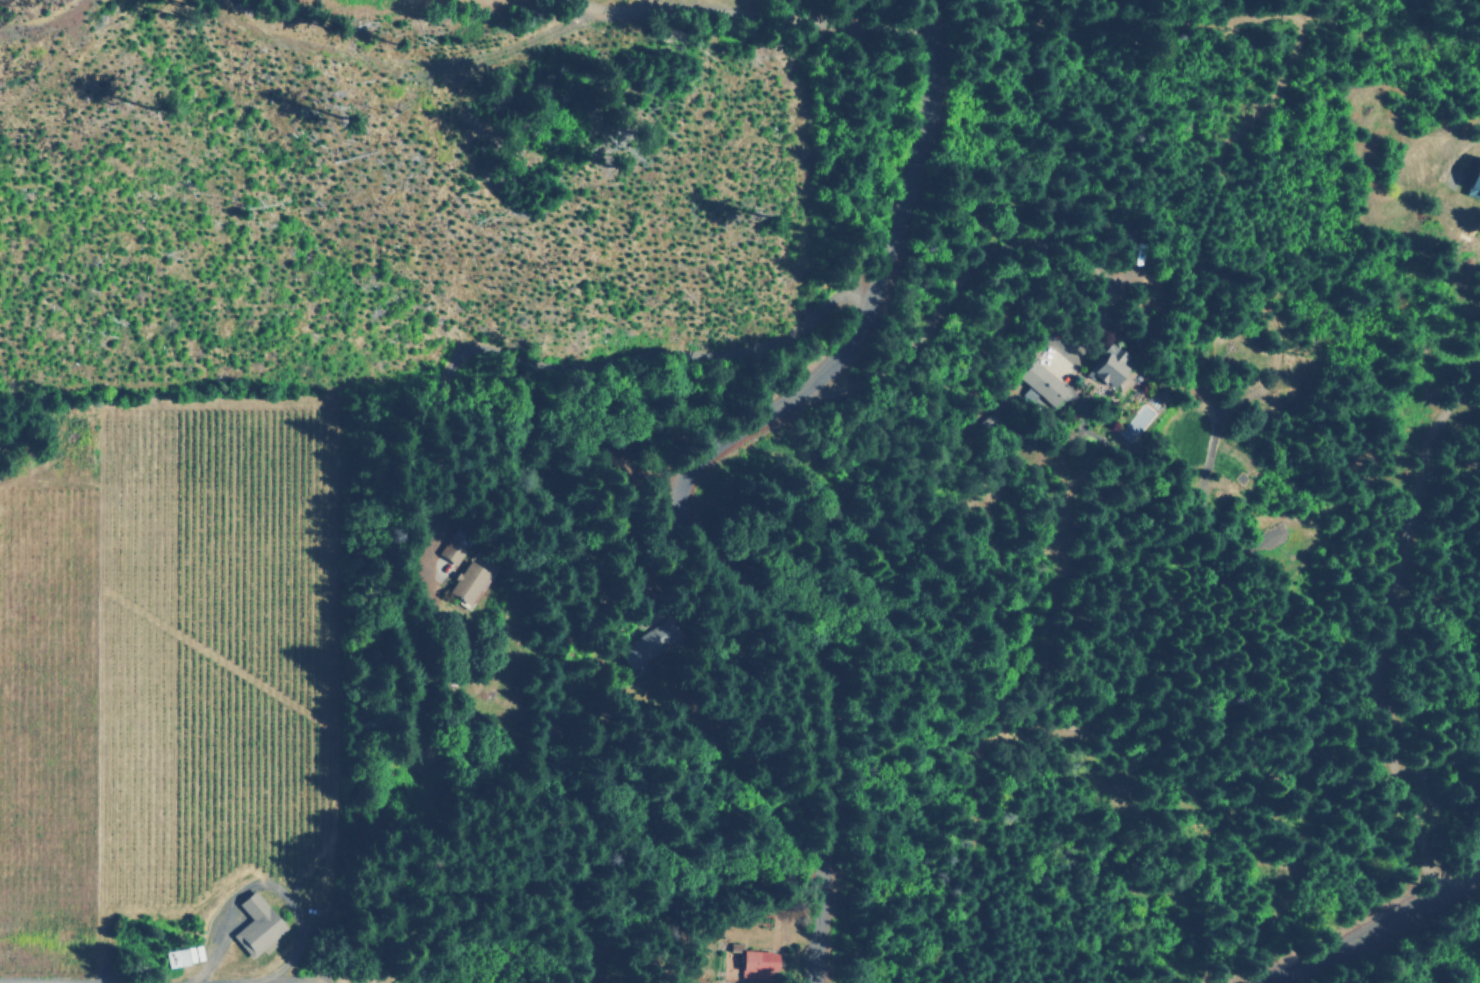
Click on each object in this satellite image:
road: (838, 14)
building: (1473, 175)
building: (1108, 366)
building: (1040, 385)
road: (685, 471)
building: (450, 551)
building: (466, 583)
building: (638, 650)
road: (1362, 924)
building: (253, 925)
building: (185, 956)
building: (754, 963)
road: (162, 982)

